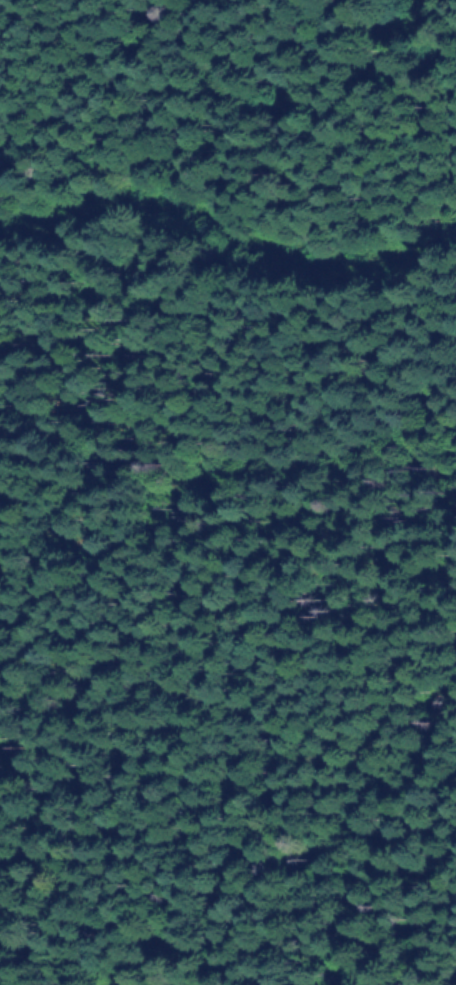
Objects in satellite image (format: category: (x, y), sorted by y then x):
road: (227, 238)

